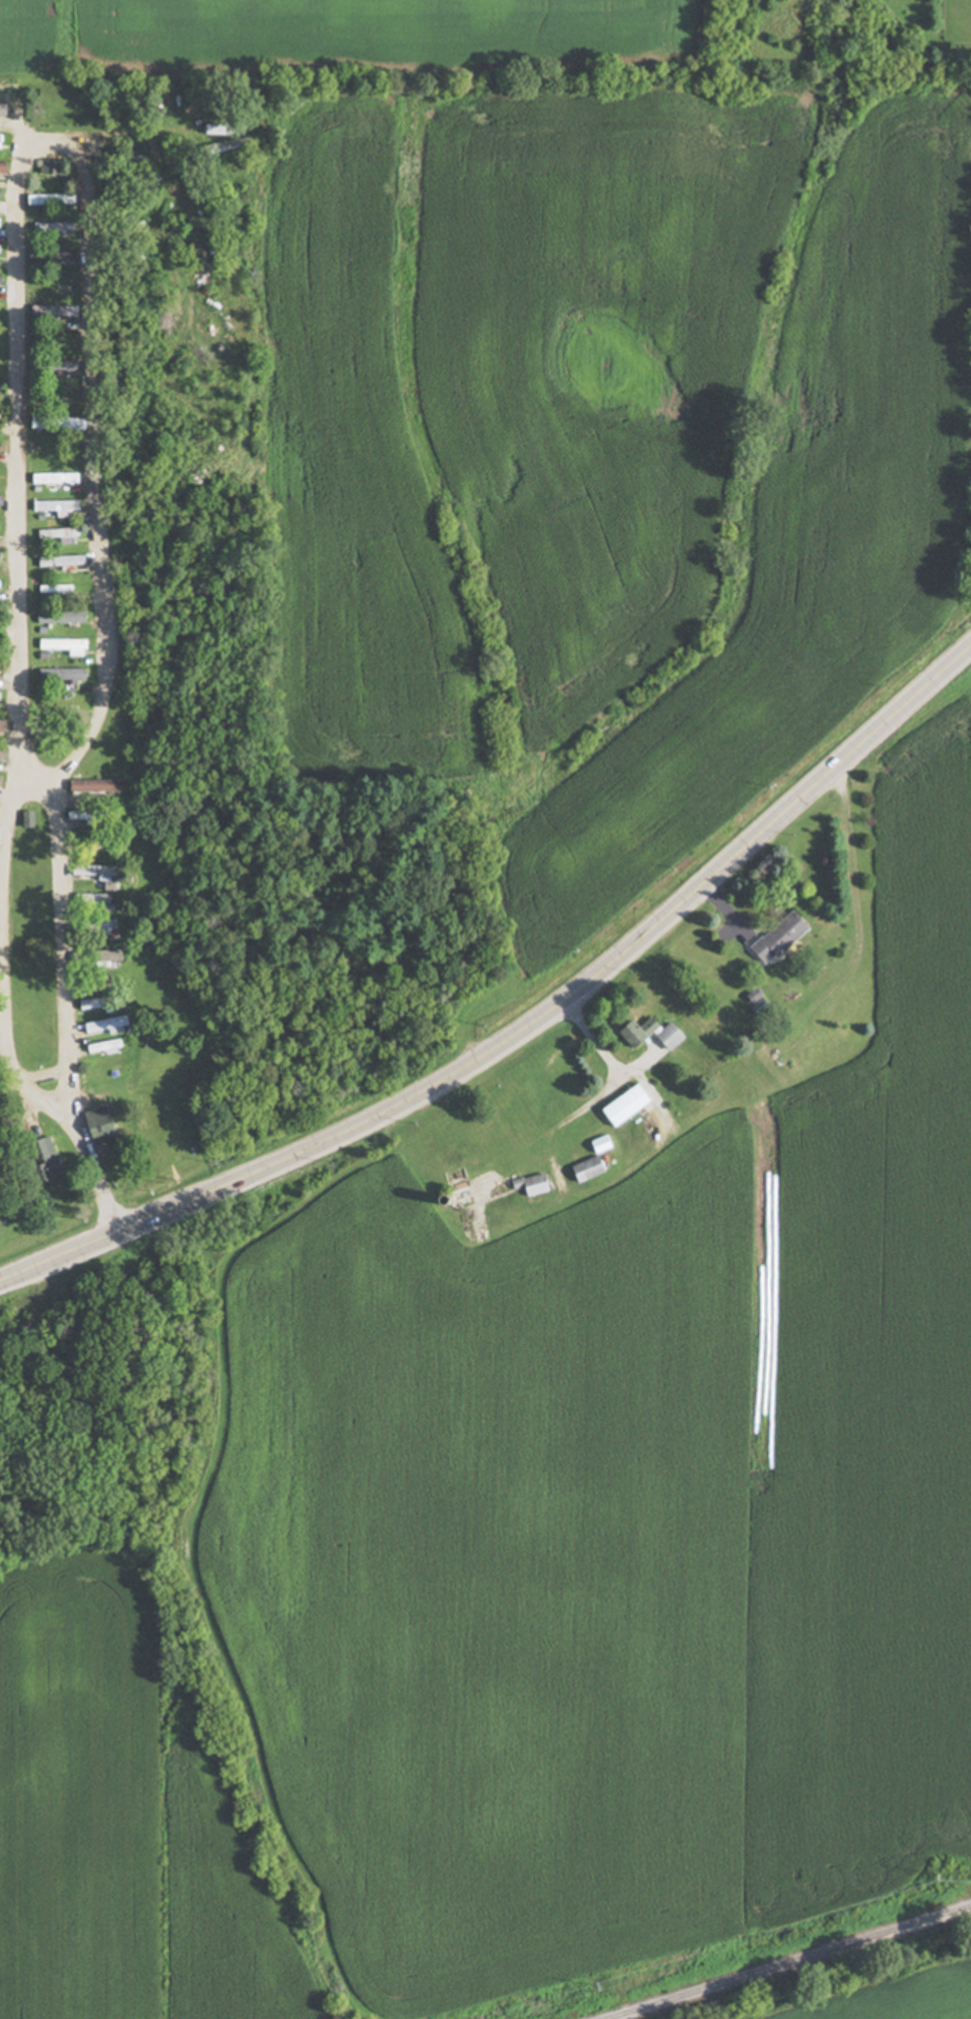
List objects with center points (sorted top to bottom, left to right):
building: (2, 110)
building: (215, 141)
road: (23, 150)
building: (3, 168)
building: (49, 168)
building: (47, 200)
building: (49, 228)
building: (55, 255)
building: (50, 311)
building: (1, 337)
building: (59, 370)
building: (66, 400)
building: (63, 423)
building: (3, 446)
building: (53, 479)
building: (0, 500)
building: (53, 508)
building: (56, 534)
building: (58, 561)
building: (57, 618)
building: (61, 647)
building: (0, 670)
building: (57, 676)
building: (0, 697)
building: (1, 725)
building: (0, 754)
building: (91, 789)
building: (24, 821)
building: (91, 874)
building: (89, 902)
road: (61, 916)
building: (100, 929)
building: (775, 938)
building: (96, 960)
building: (96, 1004)
road: (528, 1026)
building: (97, 1028)
building: (645, 1034)
building: (101, 1048)
road: (28, 1095)
building: (620, 1105)
building: (96, 1125)
building: (597, 1144)
building: (38, 1160)
road: (86, 1169)
building: (584, 1170)
building: (530, 1185)
railway: (787, 1961)
road: (31, 1972)

